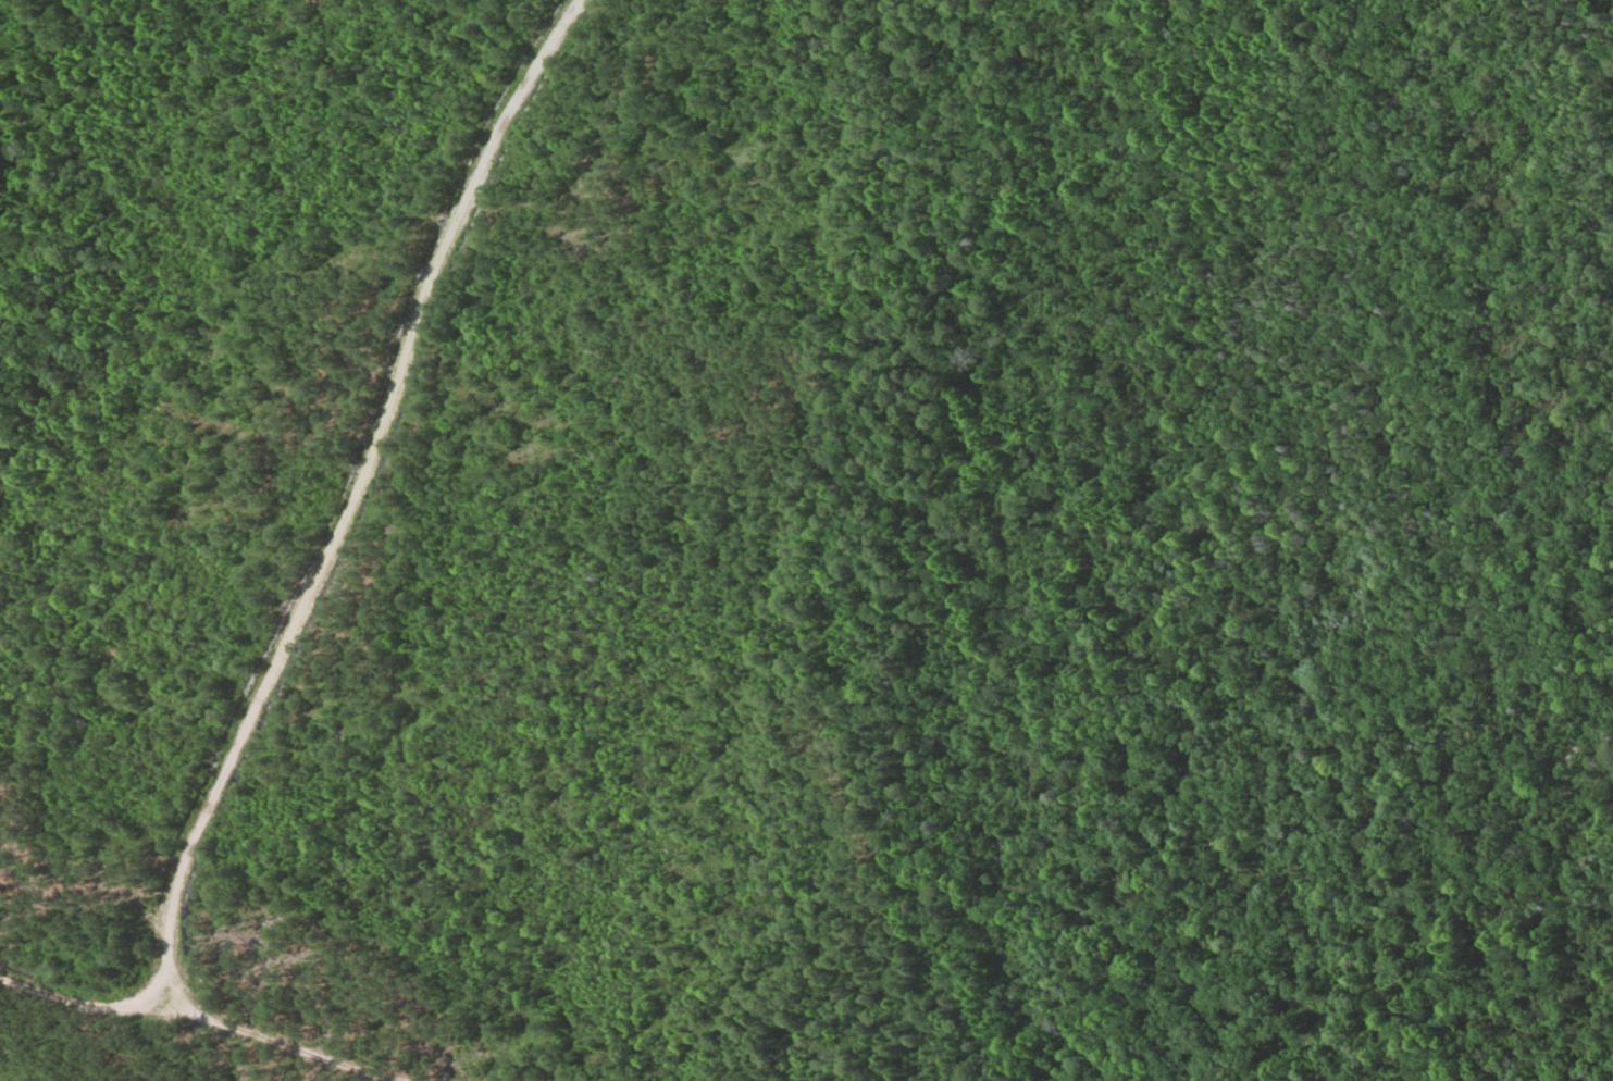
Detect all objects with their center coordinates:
road: (358, 487)
road: (79, 1001)
road: (282, 1041)

